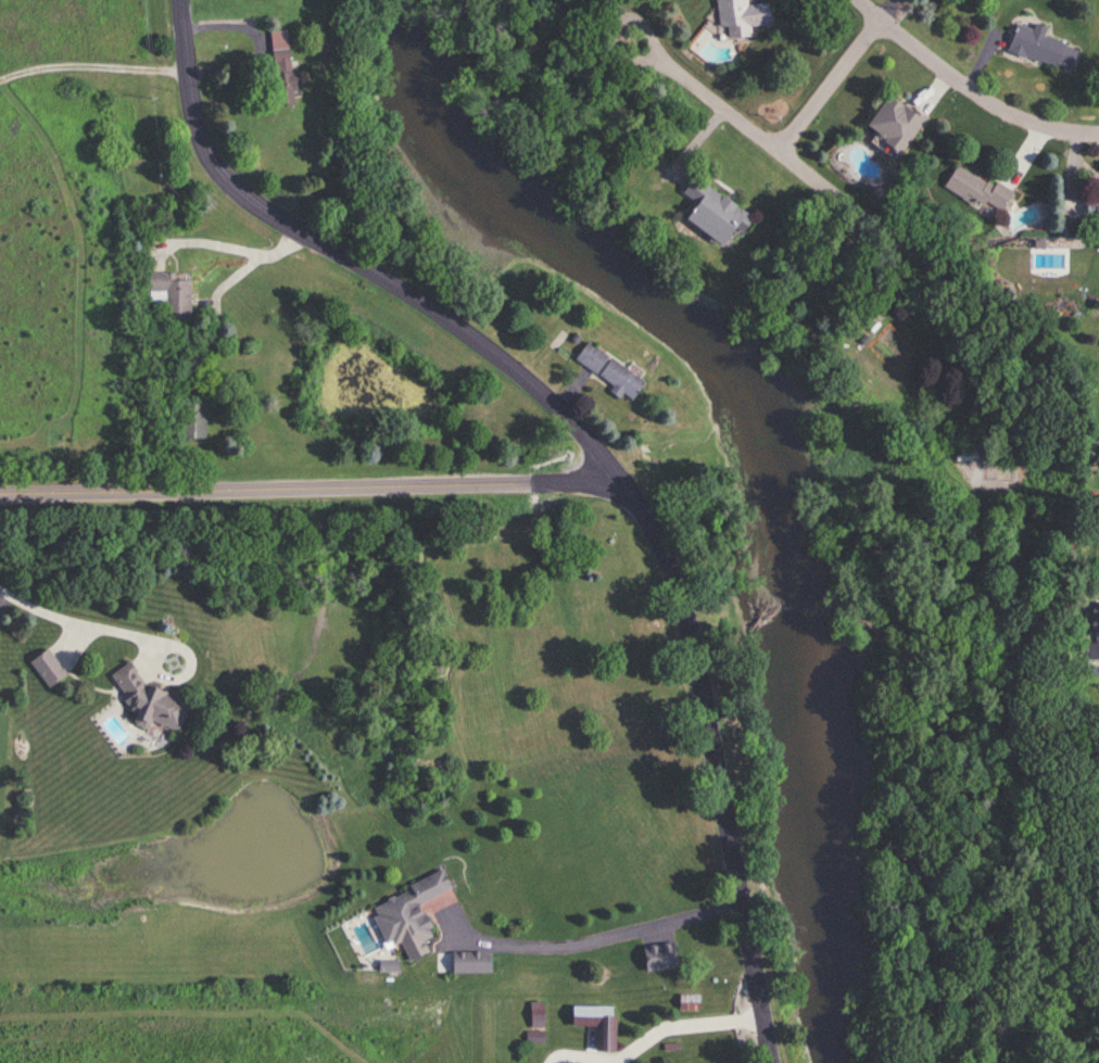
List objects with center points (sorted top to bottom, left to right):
building: (741, 18)
building: (1035, 46)
building: (278, 78)
road: (833, 85)
road: (971, 86)
building: (893, 125)
building: (978, 190)
road: (834, 191)
building: (1091, 208)
building: (711, 213)
road: (228, 241)
building: (167, 293)
building: (179, 350)
building: (875, 355)
building: (607, 371)
building: (191, 419)
building: (1098, 444)
road: (596, 446)
river: (765, 453)
road: (315, 489)
road: (1036, 509)
road: (83, 620)
building: (1091, 621)
building: (46, 667)
building: (146, 699)
road: (1036, 732)
park: (907, 790)
building: (404, 913)
road: (588, 934)
building: (659, 957)
building: (468, 962)
road: (674, 1018)
building: (533, 1024)
building: (604, 1038)
road: (571, 1048)
road: (602, 1062)

